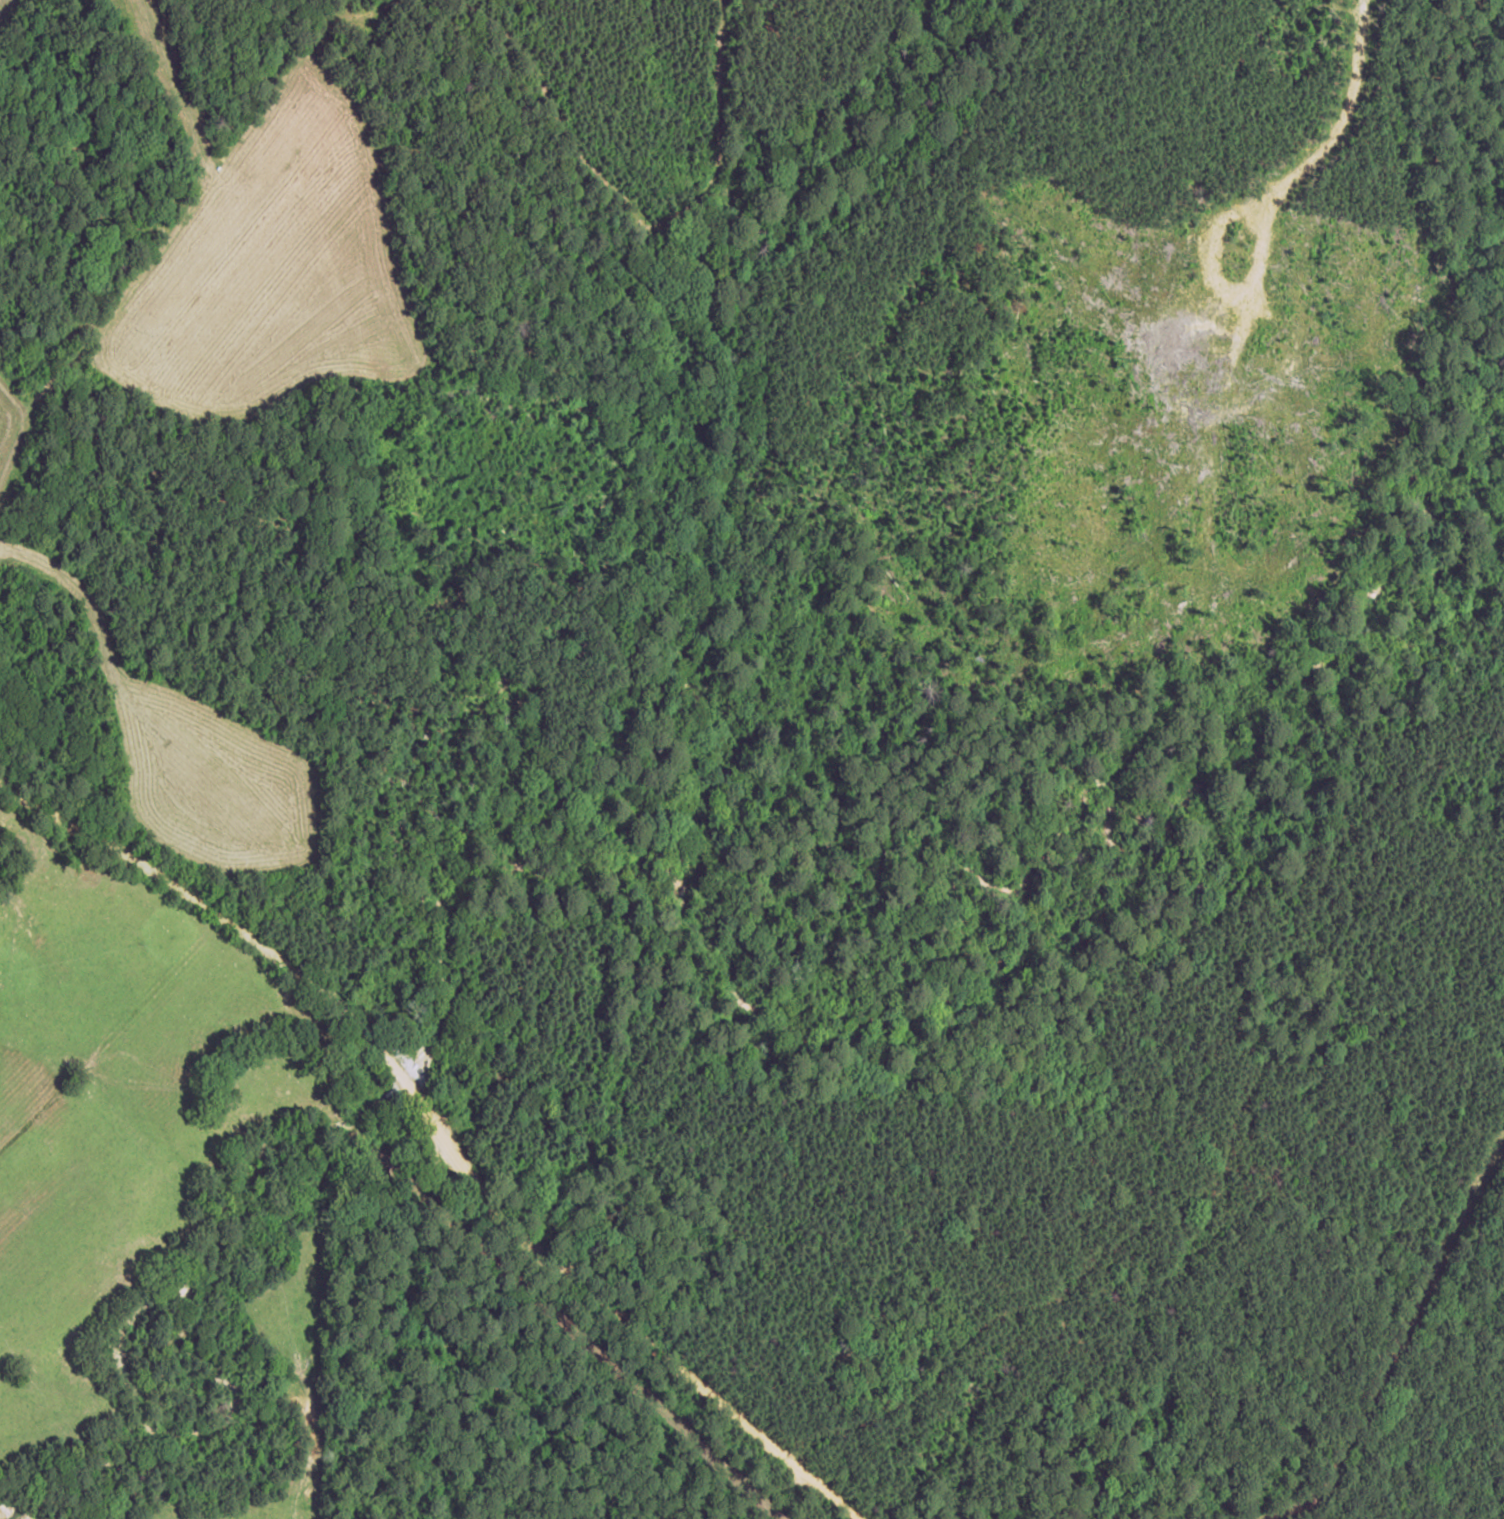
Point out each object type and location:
road: (452, 1134)

